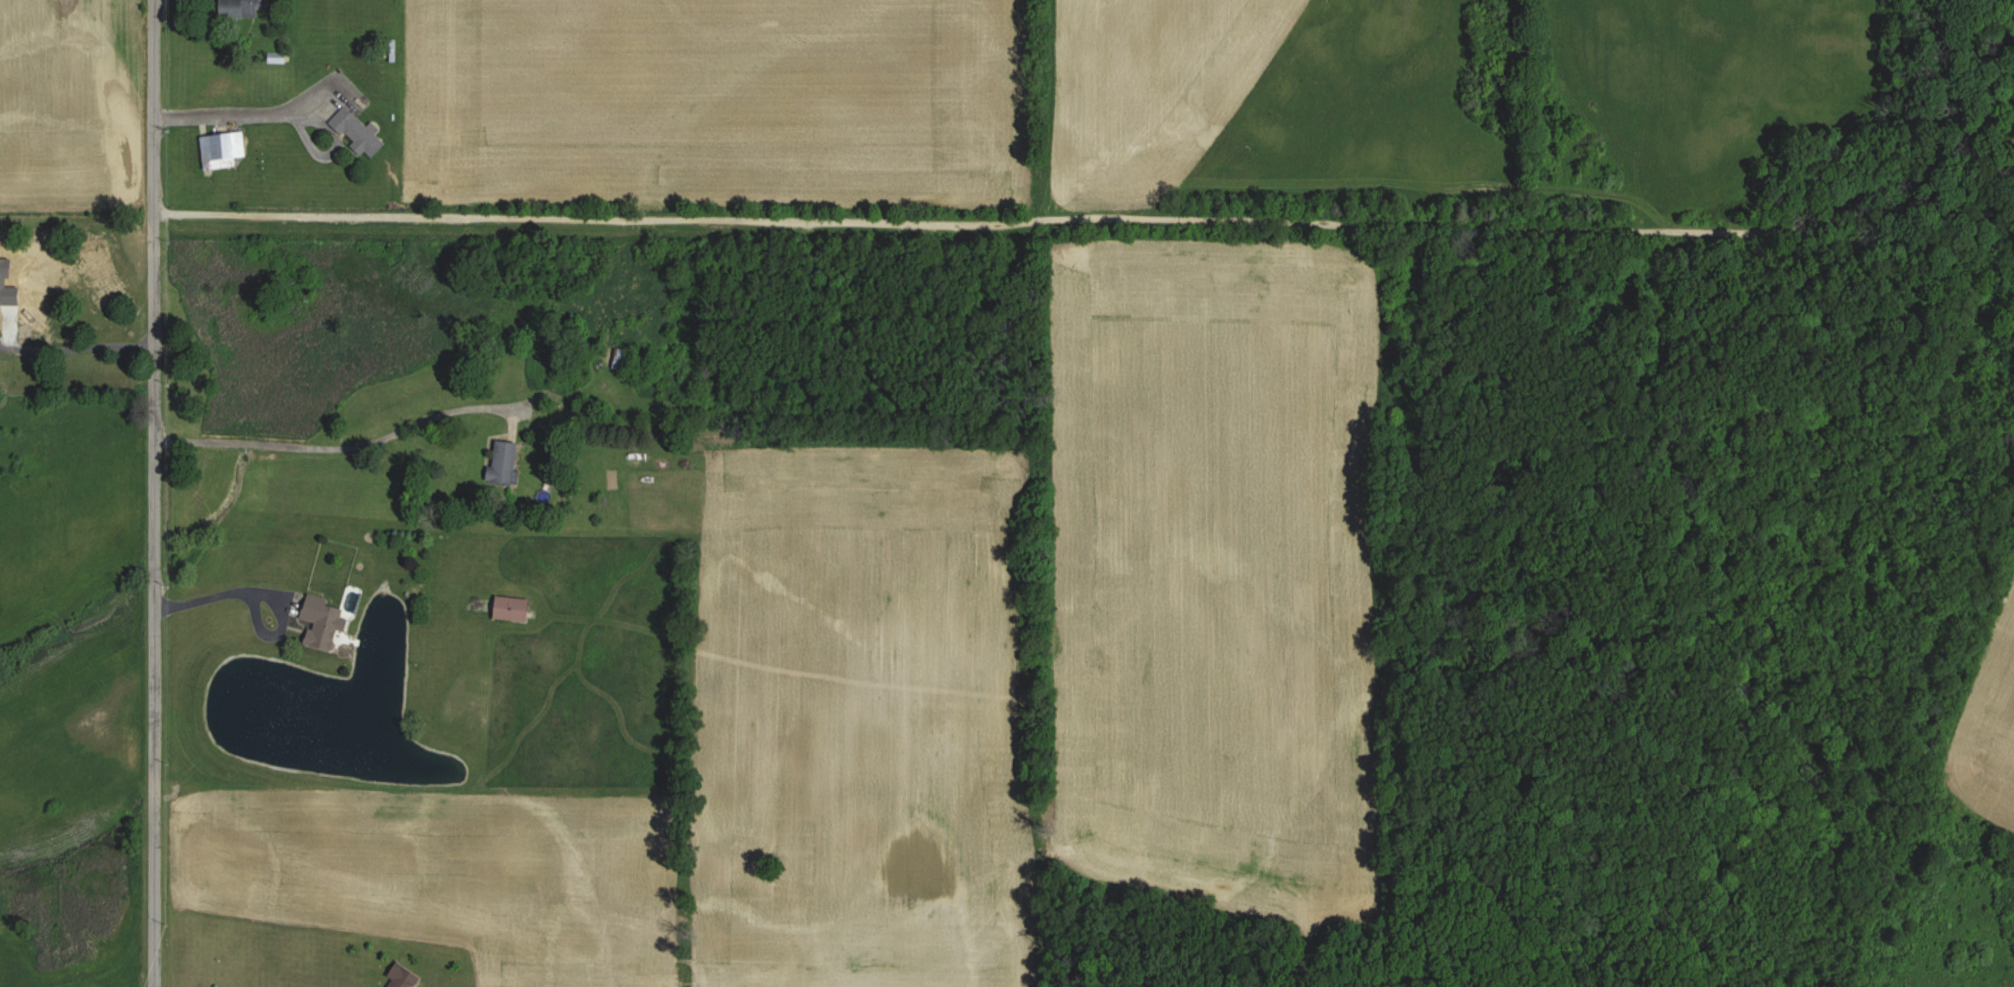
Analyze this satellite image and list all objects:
building: (248, 8)
road: (247, 114)
building: (361, 133)
building: (225, 151)
road: (1085, 221)
road: (76, 350)
road: (320, 431)
building: (508, 463)
road: (152, 493)
road: (260, 587)
building: (515, 608)
building: (326, 622)
building: (407, 977)

